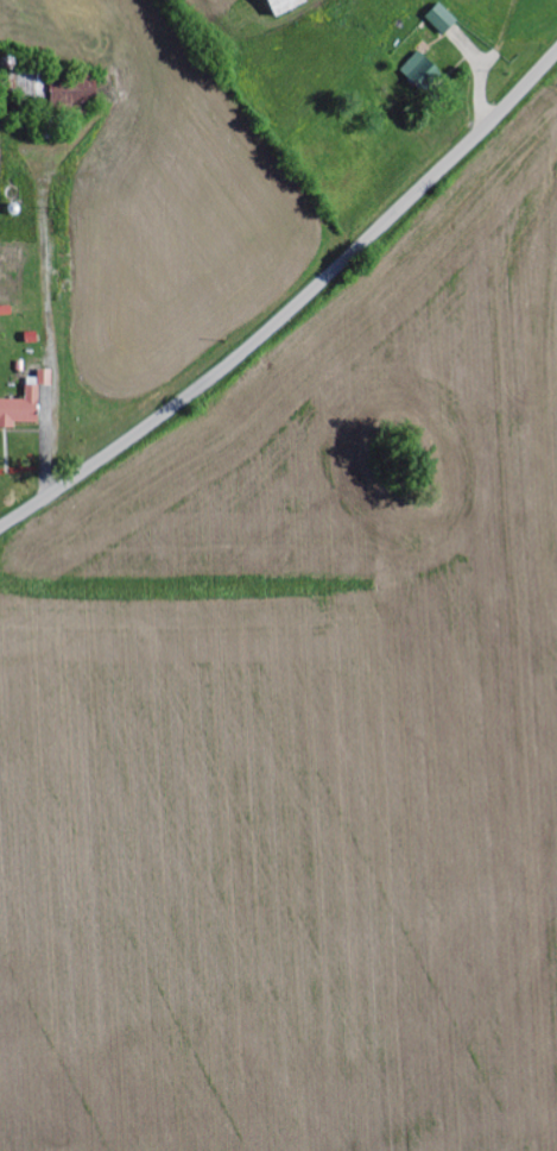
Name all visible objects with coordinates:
building: (281, 6)
building: (439, 19)
building: (414, 68)
road: (292, 303)
building: (24, 403)

